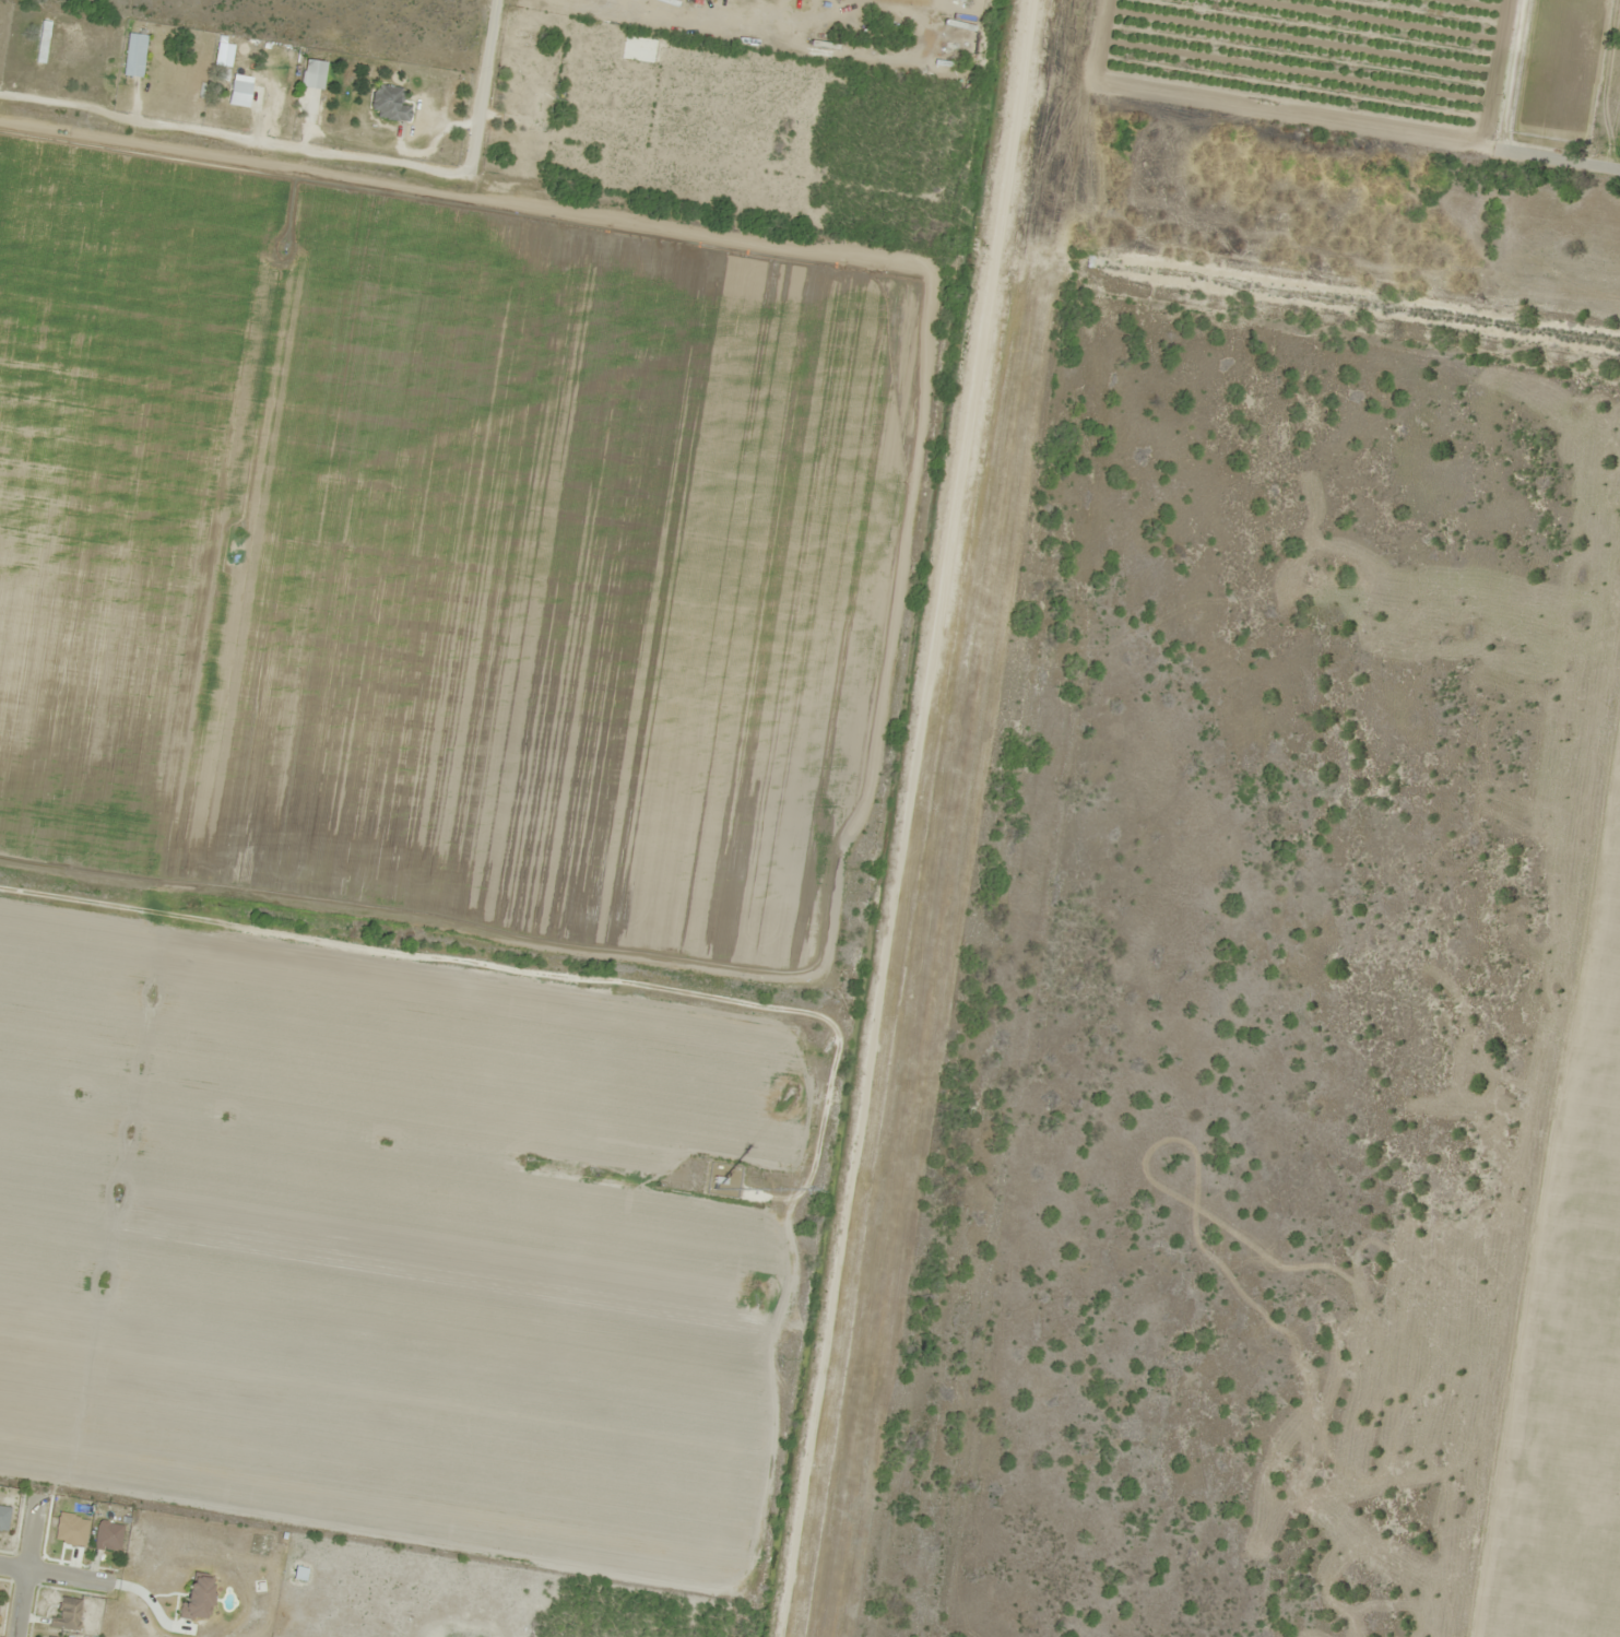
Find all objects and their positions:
building: (64, 47)
building: (135, 55)
building: (309, 73)
road: (484, 86)
building: (239, 93)
building: (386, 103)
road: (235, 134)
road: (1563, 161)
railway: (998, 818)
building: (4, 1517)
building: (105, 1535)
road: (27, 1566)
road: (52, 1571)
building: (0, 1599)
building: (68, 1614)
building: (54, 1636)

